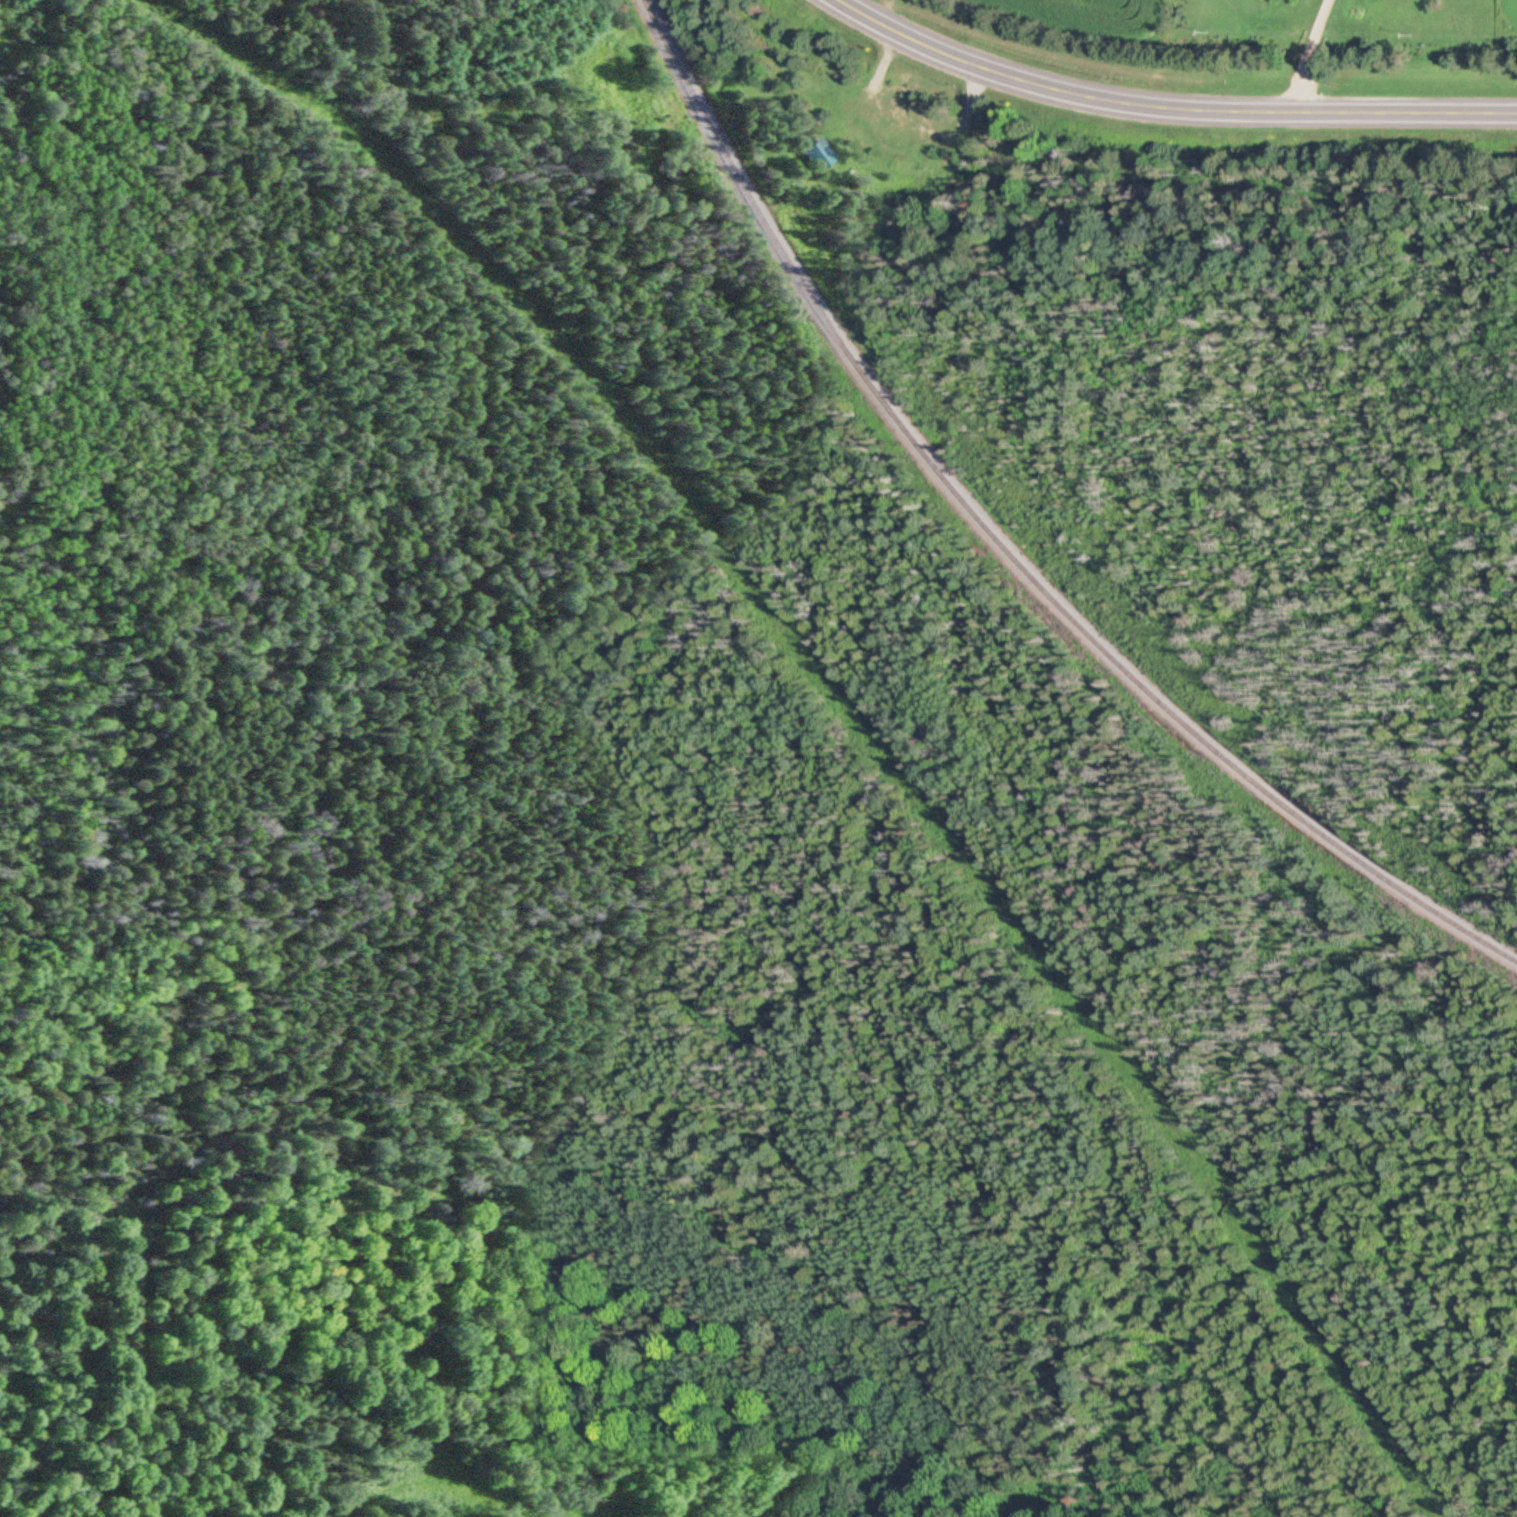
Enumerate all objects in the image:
road: (1169, 110)
building: (815, 156)
railway: (1011, 546)

